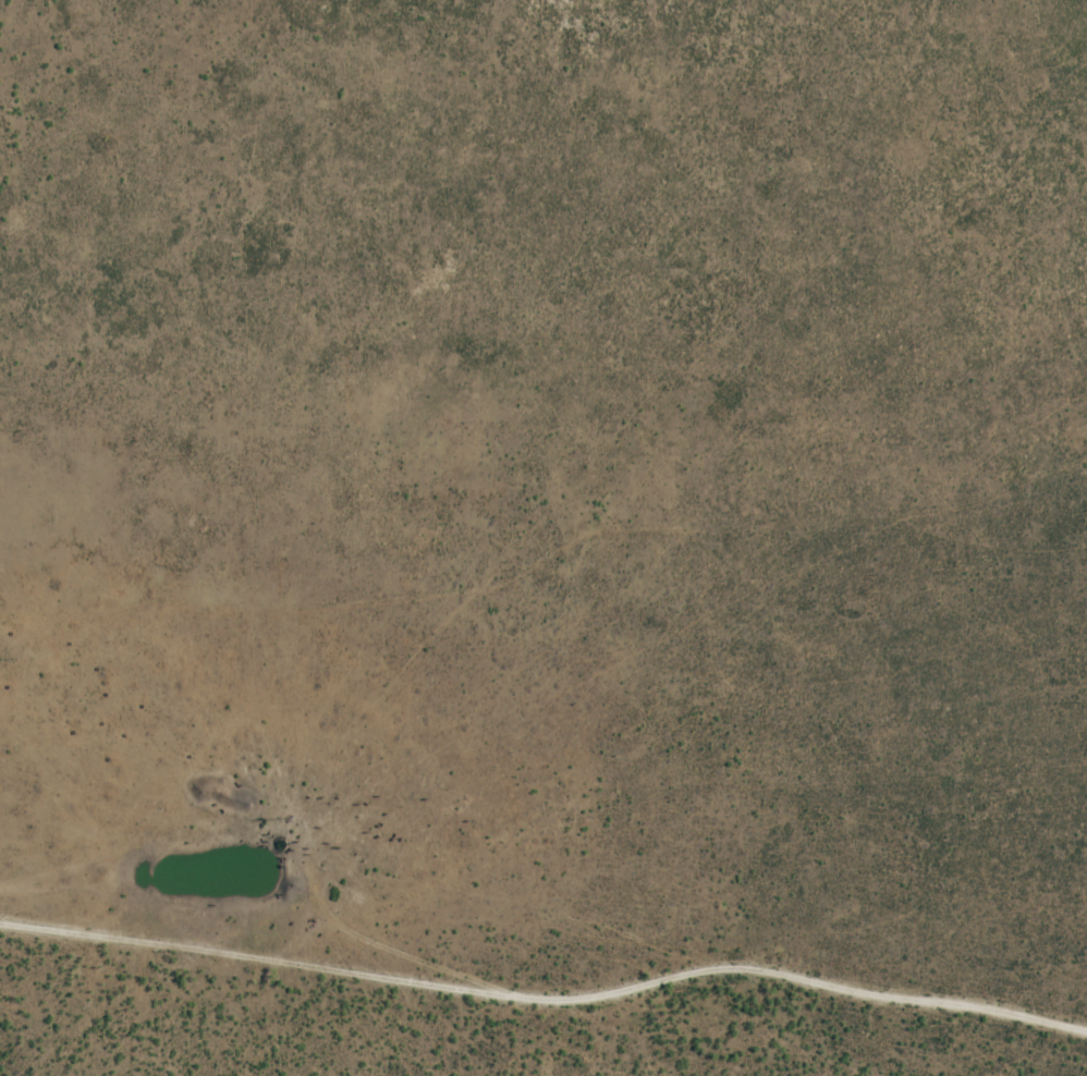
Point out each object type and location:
road: (546, 986)

